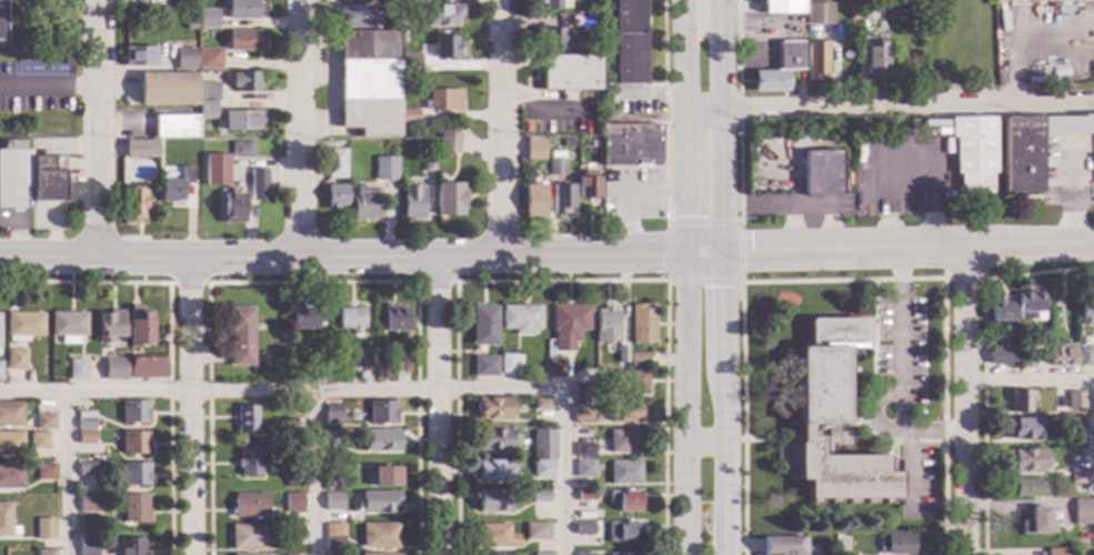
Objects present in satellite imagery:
building: (866, 0)
building: (1060, 0)
building: (551, 4)
road: (683, 4)
road: (720, 4)
building: (782, 7)
building: (242, 9)
road: (702, 9)
building: (866, 10)
building: (817, 13)
building: (441, 16)
building: (352, 18)
building: (207, 19)
building: (1, 20)
building: (572, 20)
building: (403, 24)
road: (1017, 24)
building: (188, 26)
building: (199, 32)
building: (553, 38)
building: (242, 42)
building: (628, 42)
road: (737, 46)
building: (444, 48)
building: (139, 57)
building: (209, 59)
building: (183, 60)
building: (815, 60)
building: (874, 61)
building: (409, 63)
building: (779, 69)
building: (569, 72)
building: (243, 81)
building: (368, 83)
road: (47, 88)
building: (167, 89)
building: (208, 90)
building: (442, 100)
road: (889, 105)
building: (205, 110)
road: (739, 110)
road: (664, 111)
building: (407, 114)
building: (240, 120)
road: (93, 128)
building: (174, 128)
road: (297, 129)
road: (498, 129)
building: (448, 140)
building: (566, 142)
building: (630, 144)
building: (551, 145)
building: (532, 148)
building: (1032, 148)
building: (139, 149)
building: (240, 150)
building: (972, 153)
building: (426, 163)
building: (1092, 163)
building: (335, 164)
building: (555, 167)
building: (384, 169)
building: (215, 171)
building: (13, 173)
building: (820, 173)
road: (739, 175)
building: (48, 179)
building: (258, 185)
building: (586, 185)
building: (174, 186)
building: (335, 196)
road: (629, 198)
building: (449, 199)
building: (560, 199)
building: (533, 202)
building: (412, 203)
building: (362, 204)
building: (132, 205)
building: (232, 209)
building: (661, 215)
road: (665, 252)
road: (739, 252)
road: (546, 256)
road: (961, 279)
road: (841, 280)
road: (311, 282)
road: (434, 282)
road: (559, 282)
road: (685, 282)
road: (721, 282)
road: (185, 283)
building: (1027, 304)
building: (1000, 313)
building: (1085, 313)
building: (305, 317)
building: (393, 319)
building: (520, 319)
building: (351, 320)
building: (605, 321)
building: (23, 325)
building: (109, 325)
building: (483, 325)
building: (566, 325)
building: (640, 325)
building: (68, 326)
building: (138, 327)
building: (1070, 332)
road: (167, 335)
building: (239, 335)
parking lot: (901, 343)
building: (620, 355)
building: (1061, 355)
building: (996, 356)
building: (1083, 357)
building: (16, 360)
building: (354, 360)
building: (368, 360)
building: (638, 360)
road: (981, 360)
building: (1025, 360)
building: (509, 363)
building: (145, 366)
building: (484, 366)
building: (556, 367)
building: (274, 369)
building: (77, 370)
building: (114, 370)
building: (382, 370)
building: (0, 371)
building: (317, 372)
road: (872, 374)
building: (362, 376)
building: (538, 376)
road: (900, 377)
road: (1030, 377)
building: (628, 383)
road: (362, 392)
building: (581, 392)
building: (1073, 400)
road: (965, 401)
building: (1018, 402)
building: (540, 404)
road: (190, 406)
road: (438, 406)
building: (492, 408)
building: (133, 412)
building: (624, 412)
building: (382, 413)
building: (333, 414)
building: (581, 414)
building: (10, 415)
building: (833, 417)
building: (245, 418)
building: (596, 418)
building: (44, 421)
building: (84, 421)
building: (602, 424)
road: (847, 426)
building: (1022, 428)
building: (1071, 428)
building: (291, 436)
building: (86, 437)
building: (493, 440)
road: (779, 440)
building: (333, 441)
building: (381, 441)
building: (623, 441)
road: (929, 442)
building: (133, 443)
building: (11, 444)
building: (38, 444)
building: (542, 444)
road: (705, 445)
building: (295, 451)
building: (583, 451)
road: (915, 451)
building: (1024, 461)
building: (249, 462)
building: (86, 468)
building: (584, 468)
building: (542, 470)
building: (493, 471)
building: (44, 472)
building: (623, 473)
road: (907, 473)
road: (66, 474)
building: (134, 474)
road: (314, 474)
building: (10, 476)
building: (385, 477)
building: (1076, 477)
building: (293, 481)
building: (333, 481)
parking lot: (915, 483)
building: (1027, 487)
building: (540, 496)
building: (584, 496)
building: (292, 498)
building: (624, 501)
building: (333, 502)
building: (378, 502)
building: (493, 502)
building: (87, 504)
building: (249, 505)
building: (1093, 507)
building: (134, 508)
building: (1082, 513)
building: (6, 522)
building: (1037, 522)
building: (583, 528)
building: (43, 529)
building: (536, 531)
building: (293, 533)
building: (623, 533)
building: (333, 535)
building: (378, 536)
building: (493, 536)
building: (249, 537)
building: (899, 544)
building: (87, 546)
building: (130, 546)
building: (783, 546)
building: (1056, 552)
building: (44, 553)
building: (379, 554)
building: (541, 554)
building: (584, 554)
building: (625, 554)
building: (846, 554)

